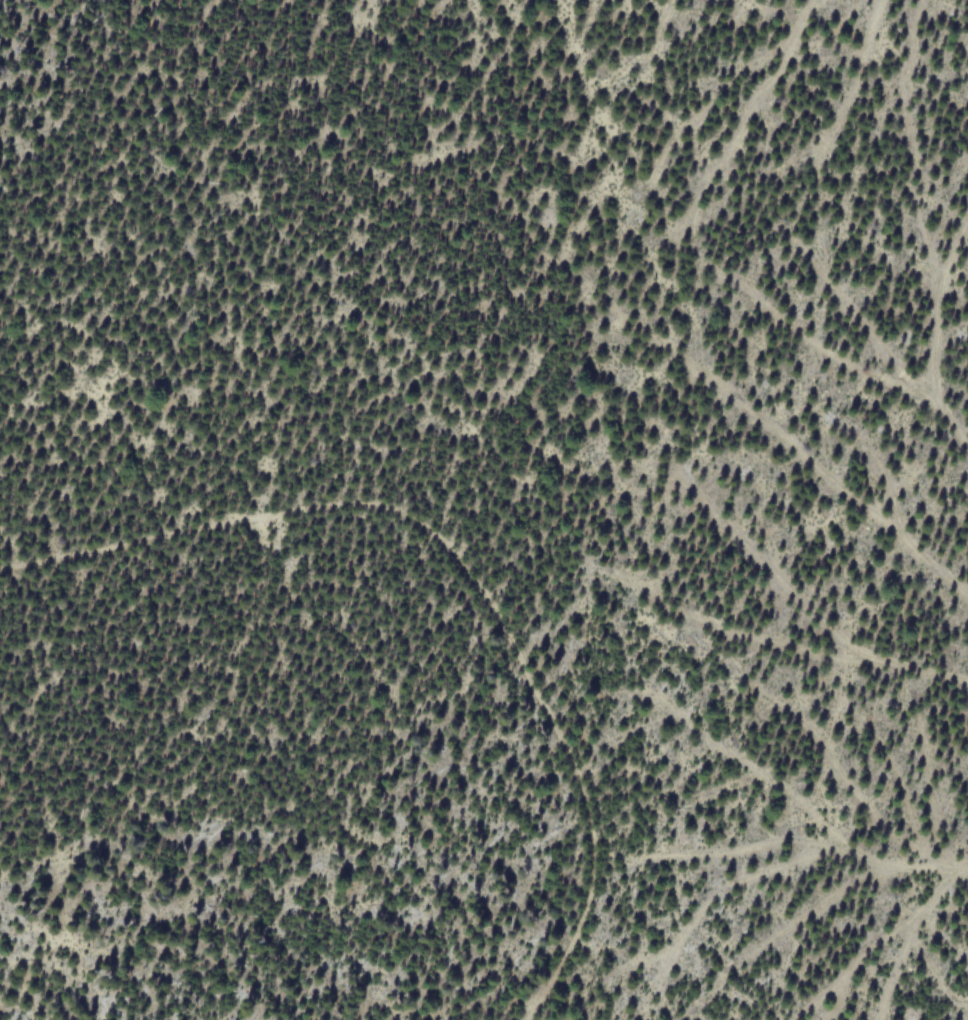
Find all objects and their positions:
road: (229, 523)
road: (575, 777)

